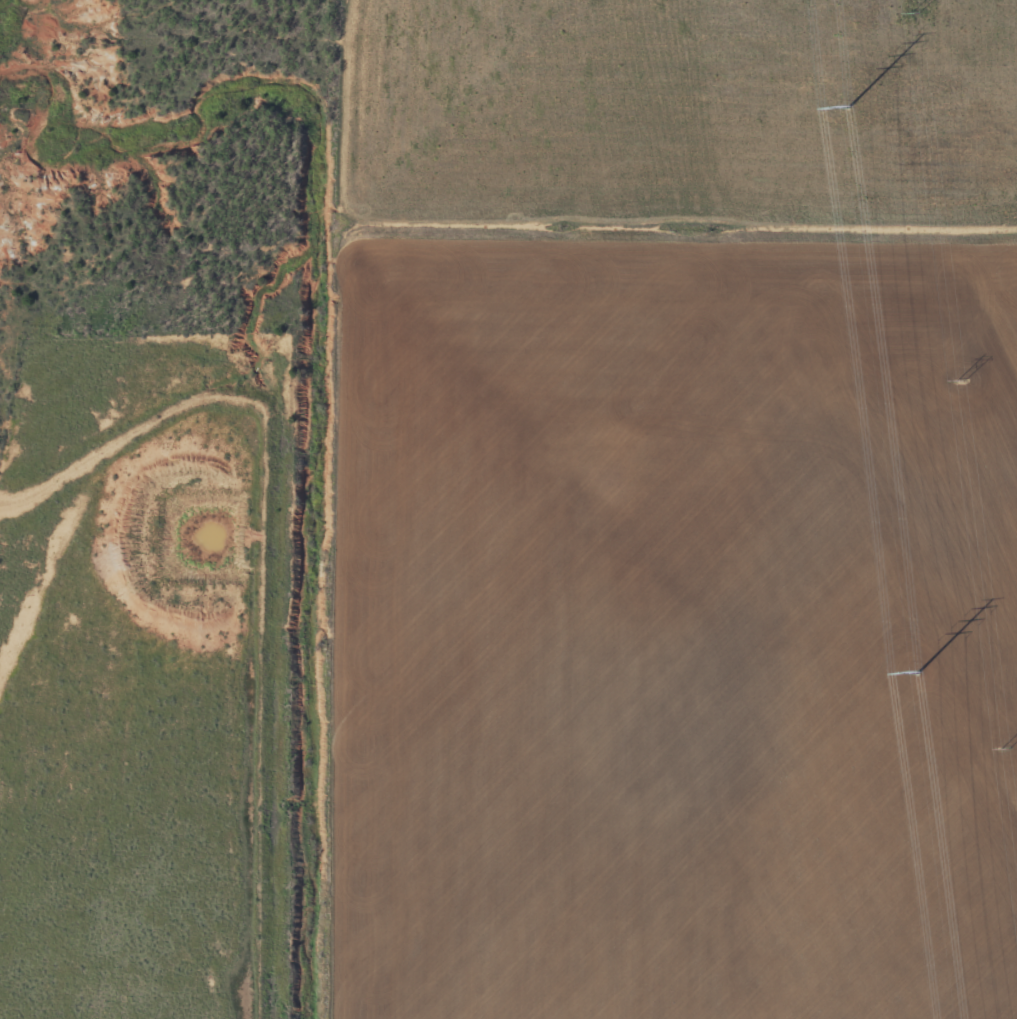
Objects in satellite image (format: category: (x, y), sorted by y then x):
power tower: (917, 15)
power tower: (849, 107)
power tower: (960, 382)
power tower: (918, 672)
power tower: (1005, 750)

